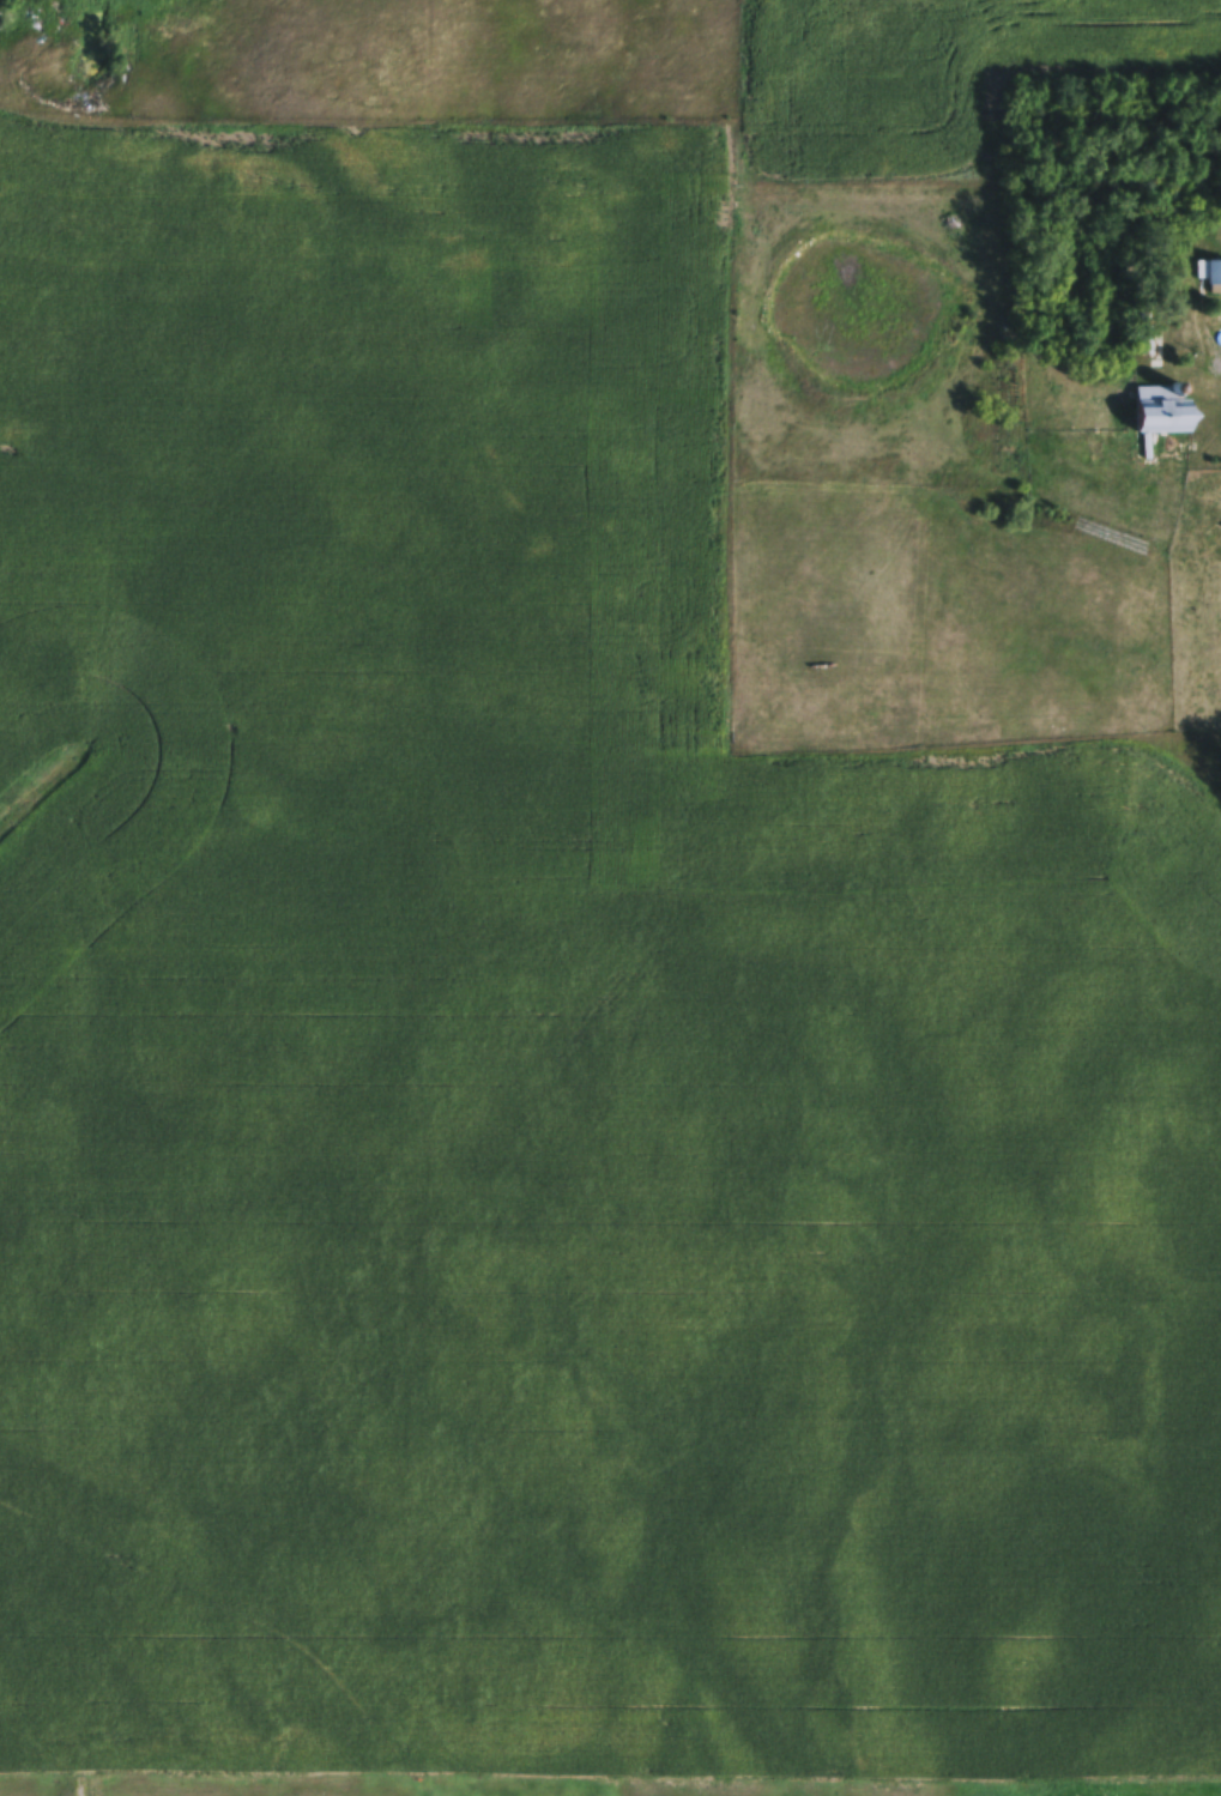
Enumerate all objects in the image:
building: (1208, 276)
building: (1172, 405)

